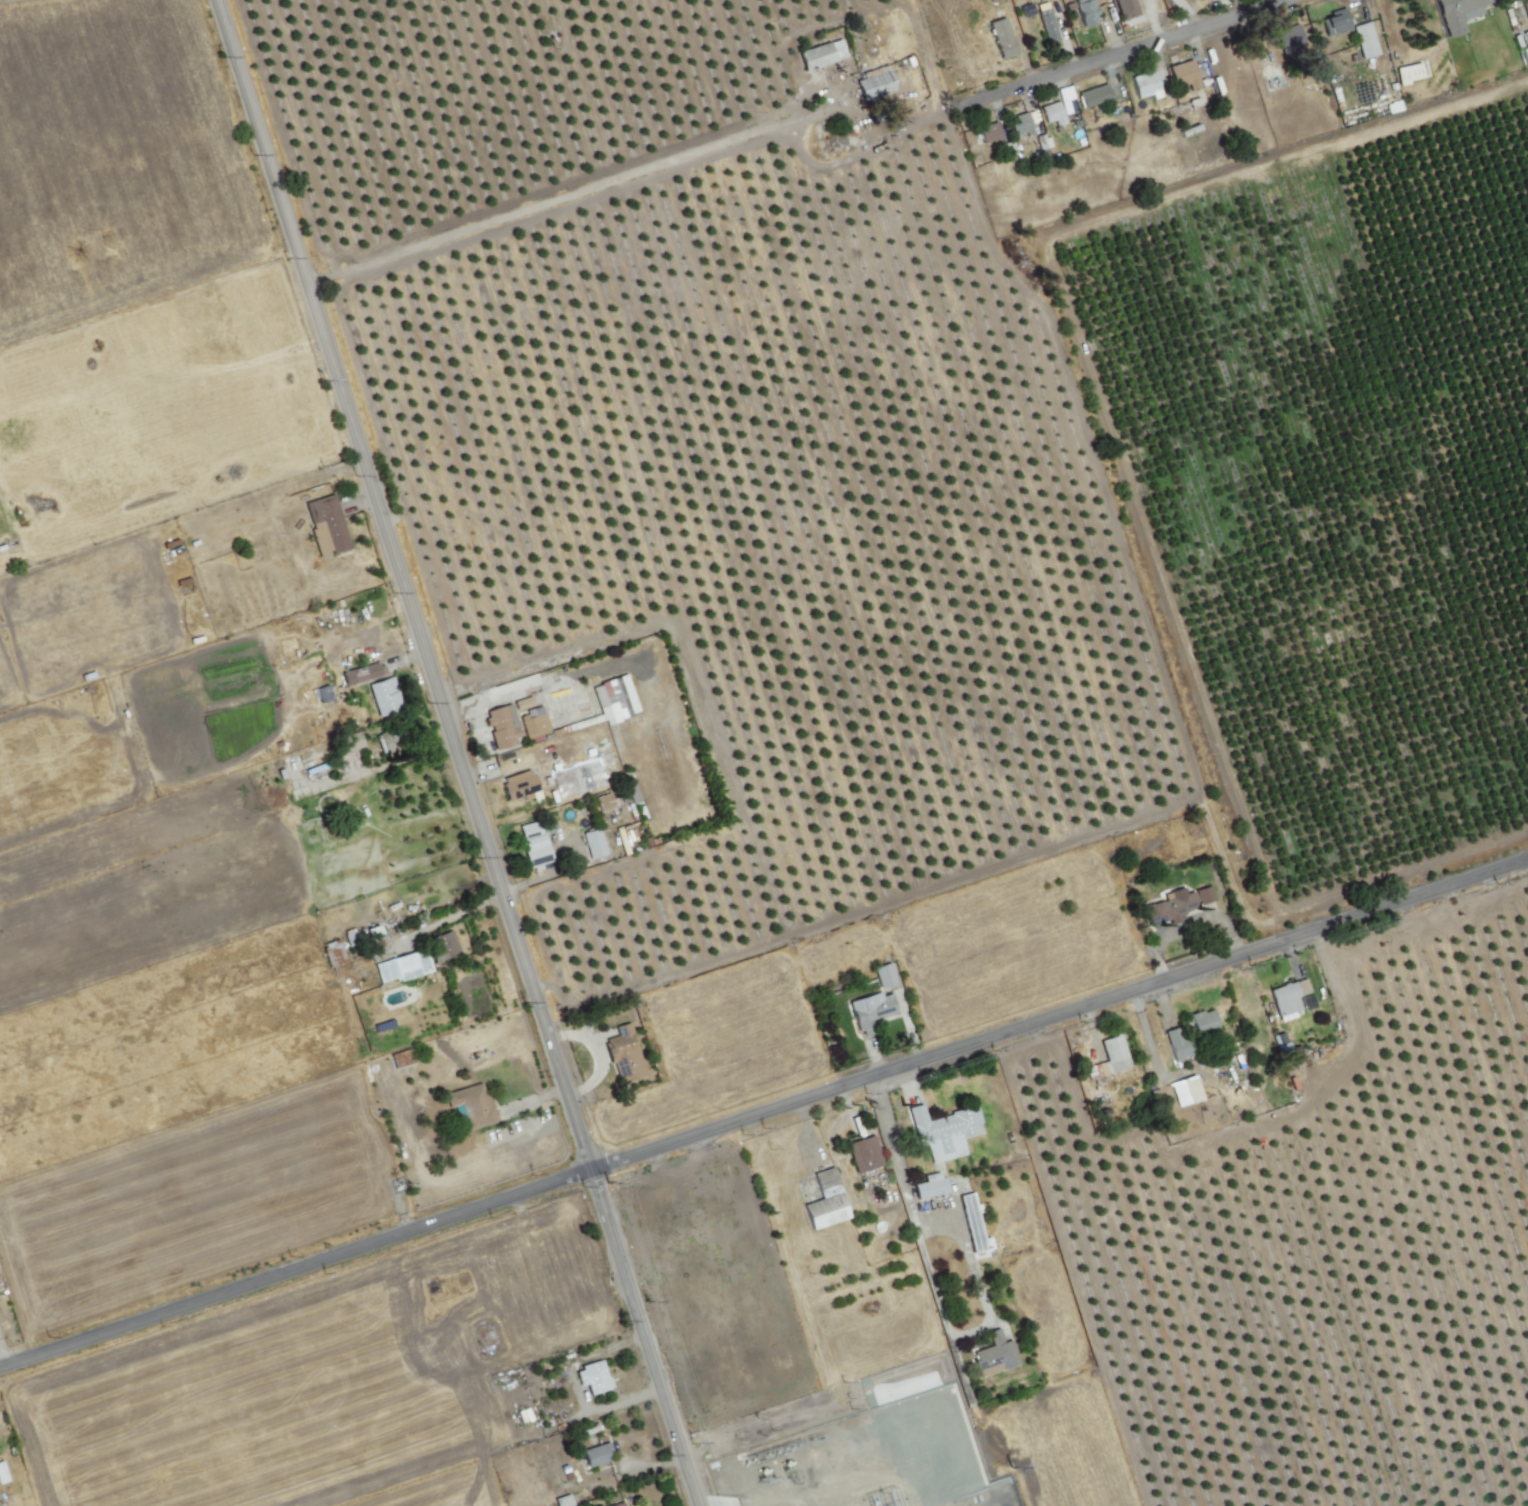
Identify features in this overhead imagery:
building: (1527, 6)
building: (1083, 11)
building: (1459, 13)
building: (1335, 23)
building: (1049, 30)
building: (1002, 39)
building: (1290, 39)
building: (1365, 41)
building: (821, 54)
road: (1122, 54)
building: (1265, 59)
building: (1409, 75)
building: (1185, 77)
building: (874, 83)
building: (1145, 86)
building: (1064, 98)
building: (1095, 98)
building: (1366, 106)
building: (1053, 115)
building: (1020, 125)
building: (988, 134)
road: (541, 208)
building: (19, 493)
building: (325, 526)
building: (362, 673)
building: (322, 693)
building: (383, 696)
building: (615, 698)
building: (531, 718)
building: (500, 725)
building: (351, 741)
building: (387, 741)
road: (458, 752)
building: (519, 784)
building: (559, 788)
building: (603, 802)
building: (535, 842)
building: (593, 843)
building: (1176, 905)
building: (378, 942)
building: (441, 946)
building: (332, 953)
building: (402, 966)
building: (885, 974)
building: (1289, 996)
building: (870, 1010)
building: (1200, 1021)
building: (1176, 1043)
building: (624, 1054)
building: (1113, 1055)
building: (1184, 1091)
building: (472, 1104)
road: (763, 1113)
building: (943, 1131)
building: (869, 1156)
building: (729, 1171)
building: (929, 1186)
building: (663, 1196)
building: (824, 1201)
road: (910, 1204)
building: (772, 1266)
building: (680, 1316)
building: (592, 1377)
building: (595, 1455)
power substation: (862, 1460)
building: (2, 1474)
building: (617, 1504)
building: (622, 1504)

